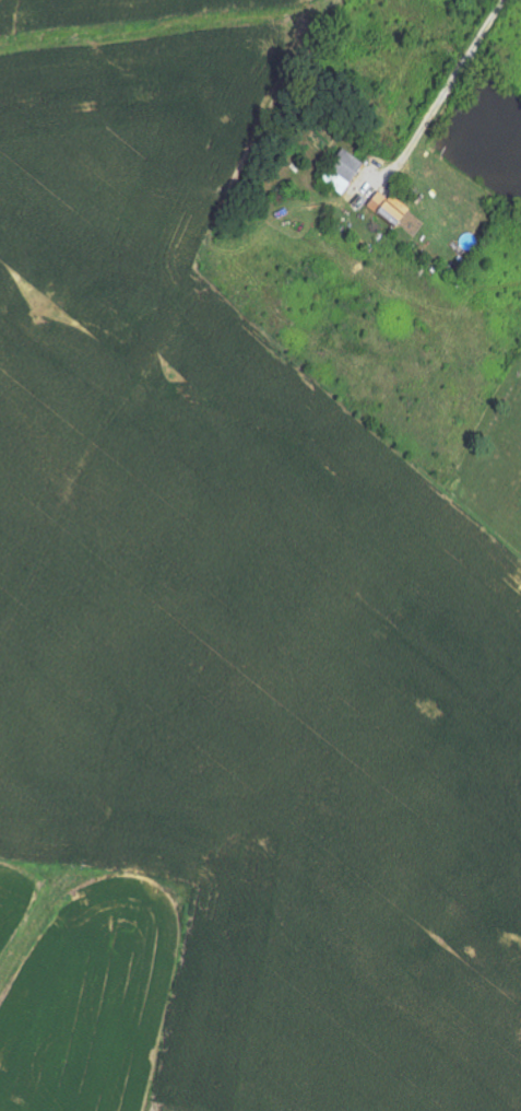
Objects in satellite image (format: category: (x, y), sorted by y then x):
road: (448, 93)
building: (347, 172)
building: (393, 212)

